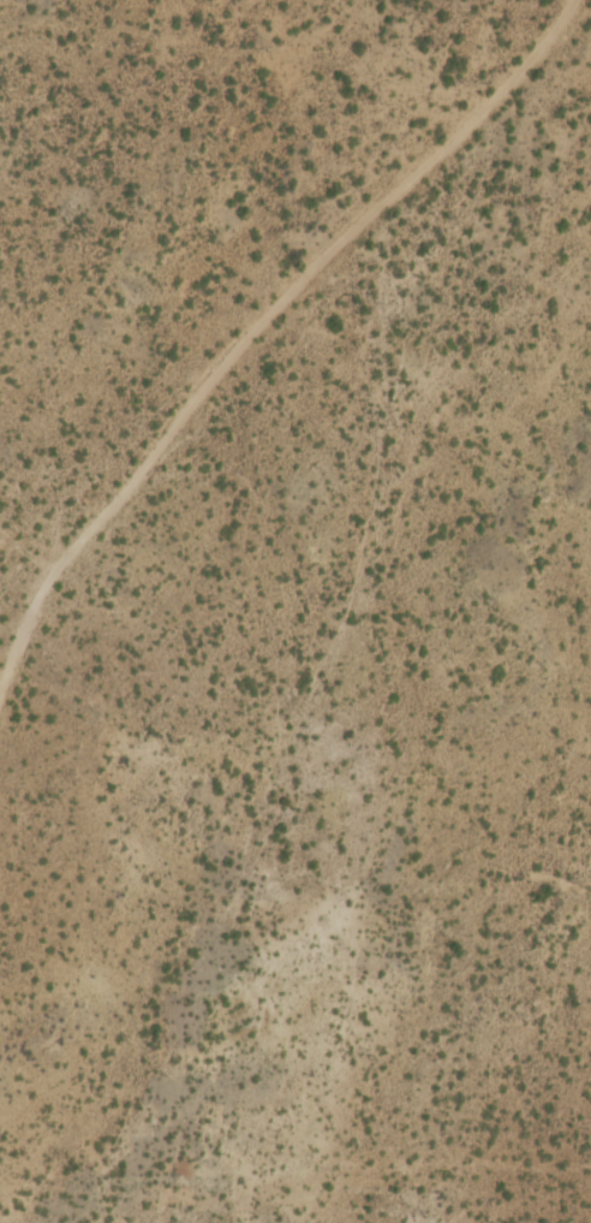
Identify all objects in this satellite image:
road: (271, 348)

